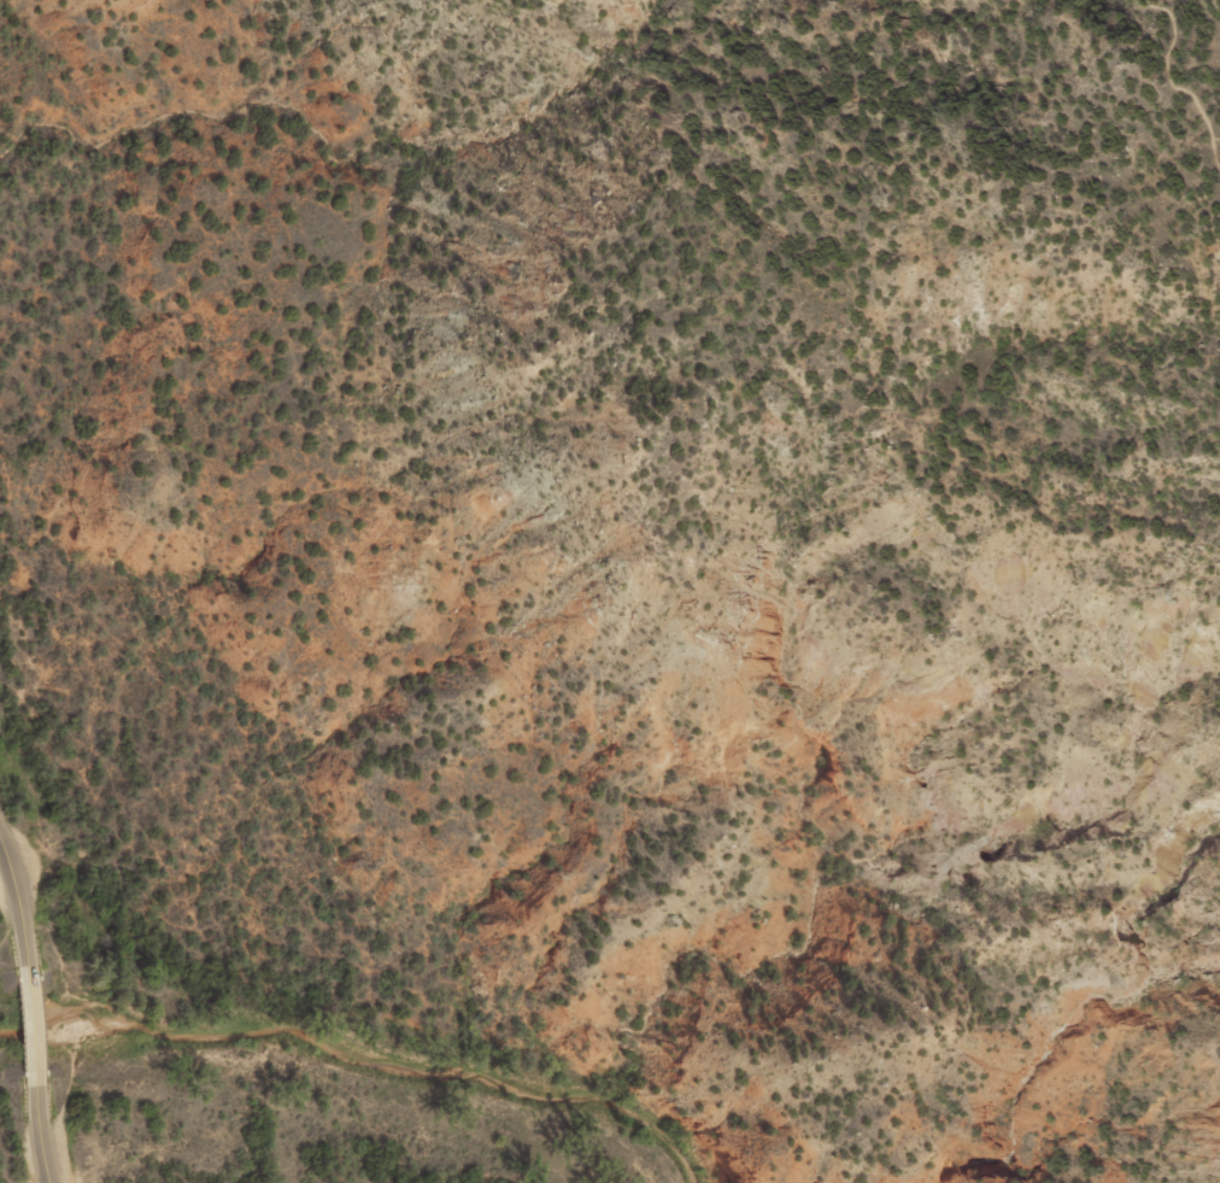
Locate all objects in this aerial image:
road: (1178, 80)
road: (19, 904)
road: (33, 1024)
river: (357, 1059)
road: (40, 1126)

